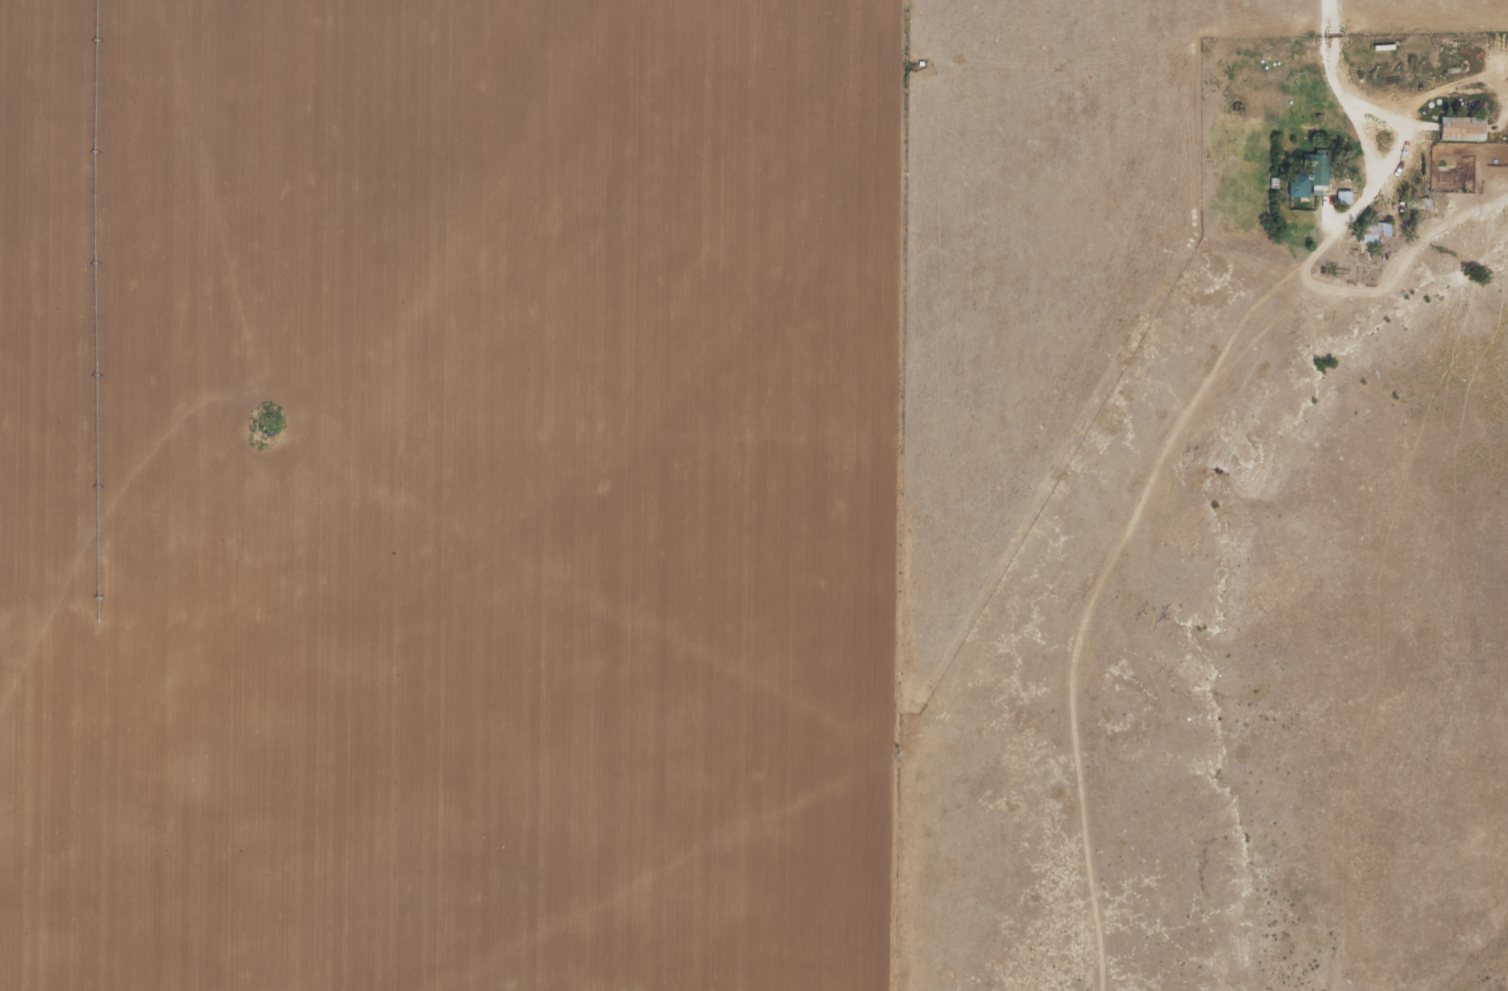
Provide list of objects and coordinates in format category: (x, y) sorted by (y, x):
road: (1338, 74)

